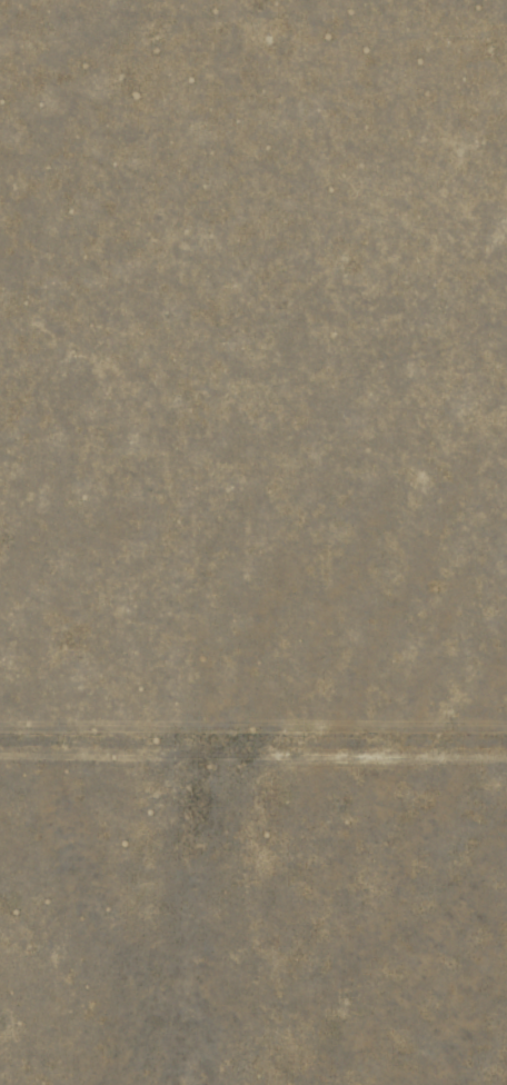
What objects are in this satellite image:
road: (254, 750)

